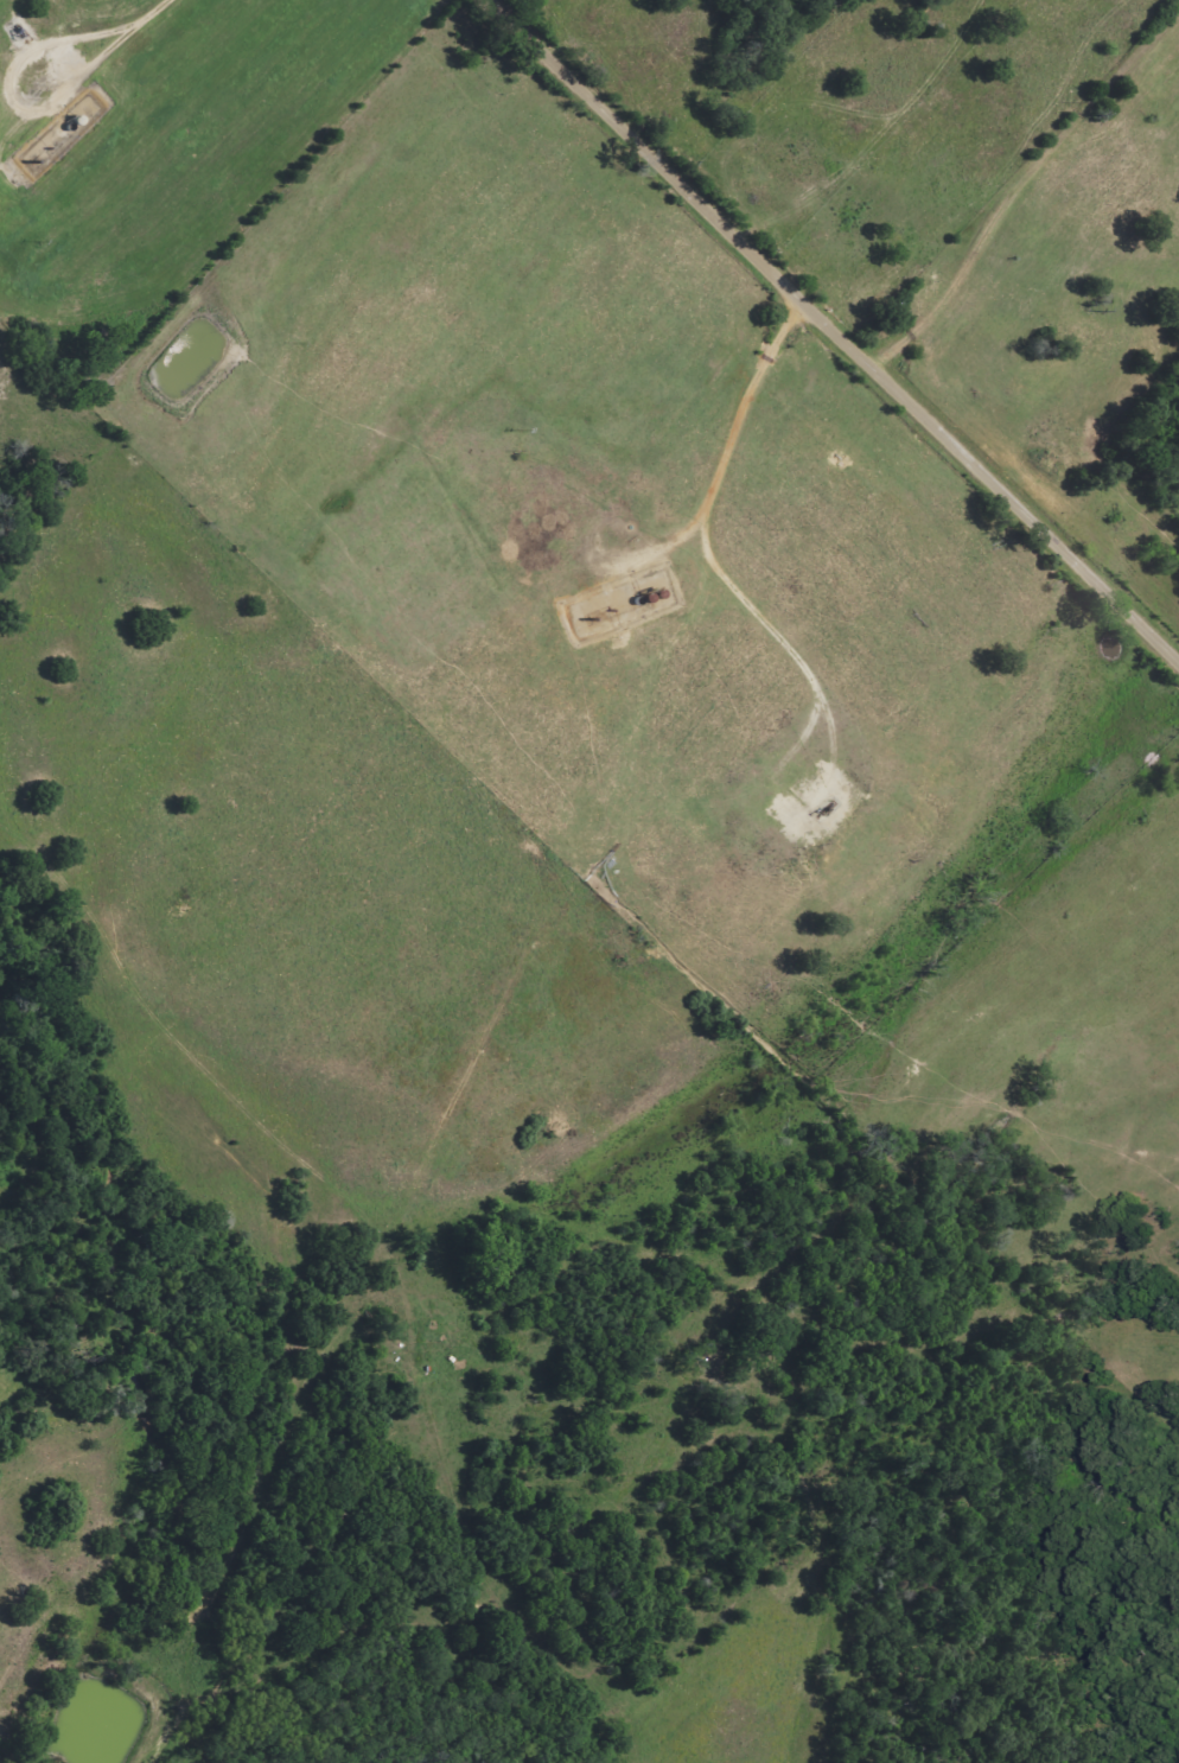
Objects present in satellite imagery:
petroleum well: (20, 32)
road: (835, 333)
petroleum well: (824, 810)
road: (376, 1262)

